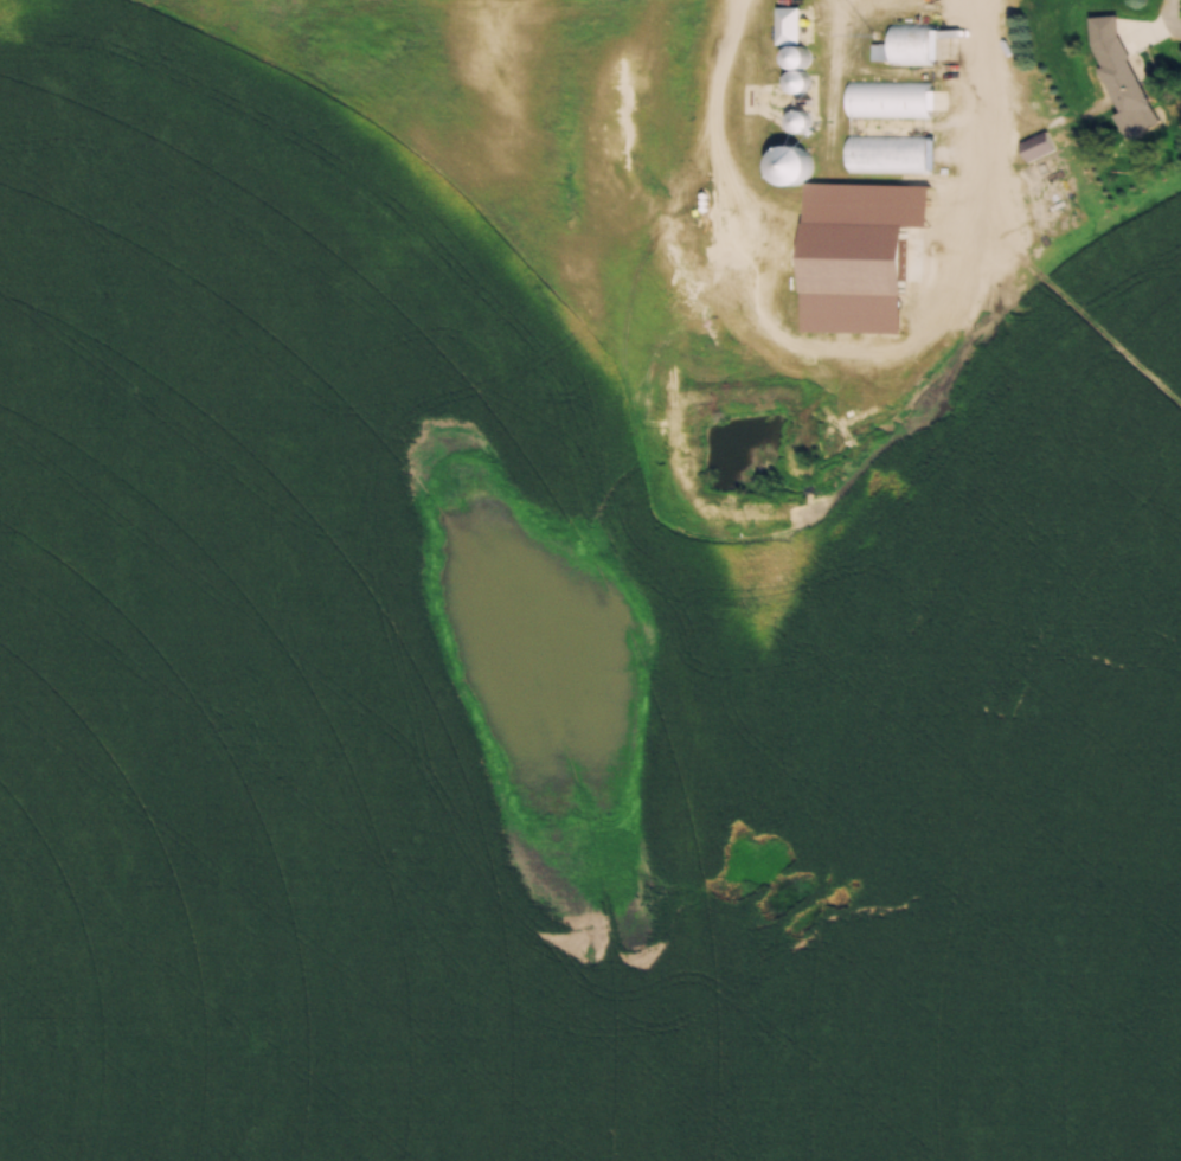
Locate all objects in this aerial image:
building: (788, 27)
building: (1119, 77)
road: (974, 103)
building: (1036, 148)
building: (788, 163)
building: (851, 278)

